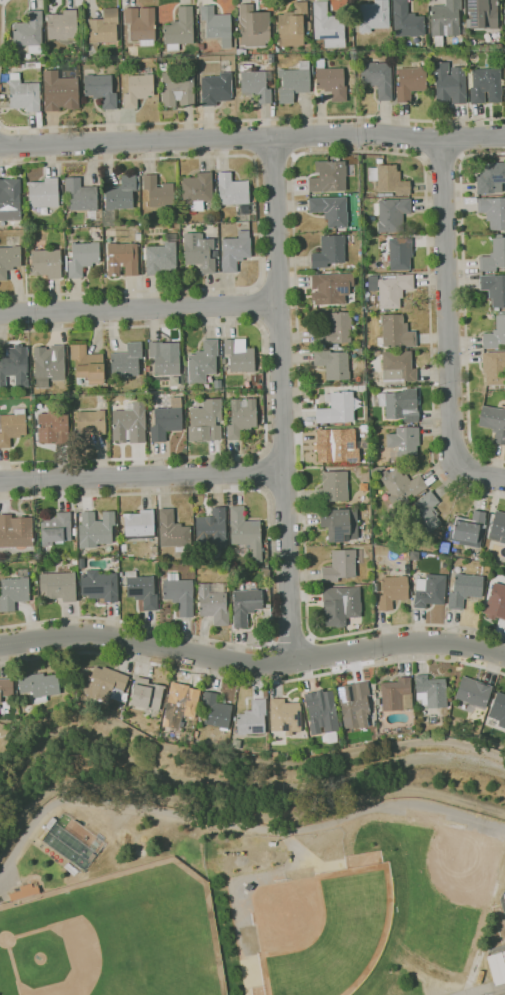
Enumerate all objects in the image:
road: (3, 0)
building: (482, 14)
building: (374, 15)
building: (504, 15)
building: (445, 18)
building: (407, 20)
building: (63, 25)
building: (141, 25)
building: (217, 25)
building: (292, 25)
building: (308, 25)
building: (253, 26)
building: (328, 26)
building: (104, 27)
building: (180, 29)
road: (3, 32)
building: (29, 32)
building: (201, 46)
building: (277, 50)
building: (241, 51)
building: (13, 55)
building: (268, 57)
building: (38, 65)
building: (102, 65)
building: (272, 66)
building: (312, 71)
building: (378, 78)
building: (331, 81)
building: (294, 82)
building: (410, 82)
building: (450, 83)
building: (256, 84)
building: (485, 85)
building: (217, 88)
building: (138, 89)
building: (178, 89)
building: (101, 90)
building: (60, 92)
building: (25, 95)
building: (2, 96)
road: (252, 119)
road: (252, 136)
road: (272, 157)
road: (443, 159)
building: (329, 177)
building: (490, 177)
building: (389, 179)
building: (61, 189)
building: (232, 190)
building: (198, 191)
building: (159, 192)
building: (44, 193)
building: (81, 194)
building: (386, 194)
building: (119, 197)
building: (10, 200)
building: (331, 210)
building: (493, 211)
building: (392, 214)
road: (258, 224)
road: (294, 235)
building: (235, 251)
building: (329, 251)
building: (199, 252)
building: (400, 253)
building: (494, 255)
building: (83, 258)
building: (122, 259)
building: (161, 259)
building: (9, 260)
building: (66, 262)
building: (46, 263)
building: (331, 288)
building: (494, 289)
building: (394, 290)
road: (465, 298)
road: (447, 303)
road: (258, 306)
road: (139, 309)
building: (335, 330)
building: (396, 331)
building: (496, 334)
building: (360, 343)
building: (336, 345)
building: (239, 355)
building: (165, 357)
building: (127, 361)
building: (202, 363)
building: (49, 364)
building: (88, 364)
building: (333, 364)
building: (14, 365)
building: (398, 366)
building: (494, 367)
building: (147, 368)
building: (224, 368)
road: (264, 389)
road: (281, 399)
building: (105, 403)
building: (400, 405)
building: (337, 409)
building: (29, 418)
building: (241, 418)
building: (167, 420)
building: (206, 421)
building: (494, 422)
building: (130, 424)
building: (89, 425)
building: (12, 427)
building: (54, 427)
building: (404, 442)
building: (337, 446)
road: (266, 471)
building: (375, 471)
road: (480, 473)
road: (141, 475)
building: (376, 480)
building: (334, 486)
building: (401, 487)
building: (425, 513)
building: (139, 524)
building: (340, 524)
building: (212, 525)
building: (498, 526)
building: (56, 529)
building: (96, 529)
building: (469, 530)
building: (16, 531)
building: (75, 531)
building: (173, 531)
building: (246, 532)
building: (439, 534)
building: (124, 547)
building: (443, 547)
building: (154, 549)
building: (74, 561)
building: (340, 565)
building: (81, 568)
road: (270, 572)
building: (100, 585)
building: (59, 586)
building: (142, 590)
building: (430, 590)
building: (464, 590)
building: (14, 591)
building: (392, 591)
building: (179, 593)
building: (496, 602)
building: (214, 603)
building: (245, 605)
building: (341, 605)
road: (291, 642)
road: (253, 663)
road: (252, 683)
building: (39, 685)
building: (107, 686)
building: (6, 687)
building: (431, 691)
building: (474, 692)
building: (397, 695)
building: (147, 697)
building: (377, 701)
building: (354, 704)
building: (180, 706)
building: (498, 709)
building: (216, 711)
building: (321, 711)
building: (285, 716)
building: (253, 718)
building: (432, 720)
building: (196, 734)
road: (236, 766)
road: (429, 809)
building: (460, 826)
road: (274, 830)
building: (43, 835)
building: (504, 840)
building: (70, 847)
building: (24, 892)
park: (425, 892)
building: (504, 896)
park: (111, 940)
building: (504, 954)
building: (476, 968)
building: (497, 968)
park: (308, 980)
road: (490, 991)
building: (503, 994)

